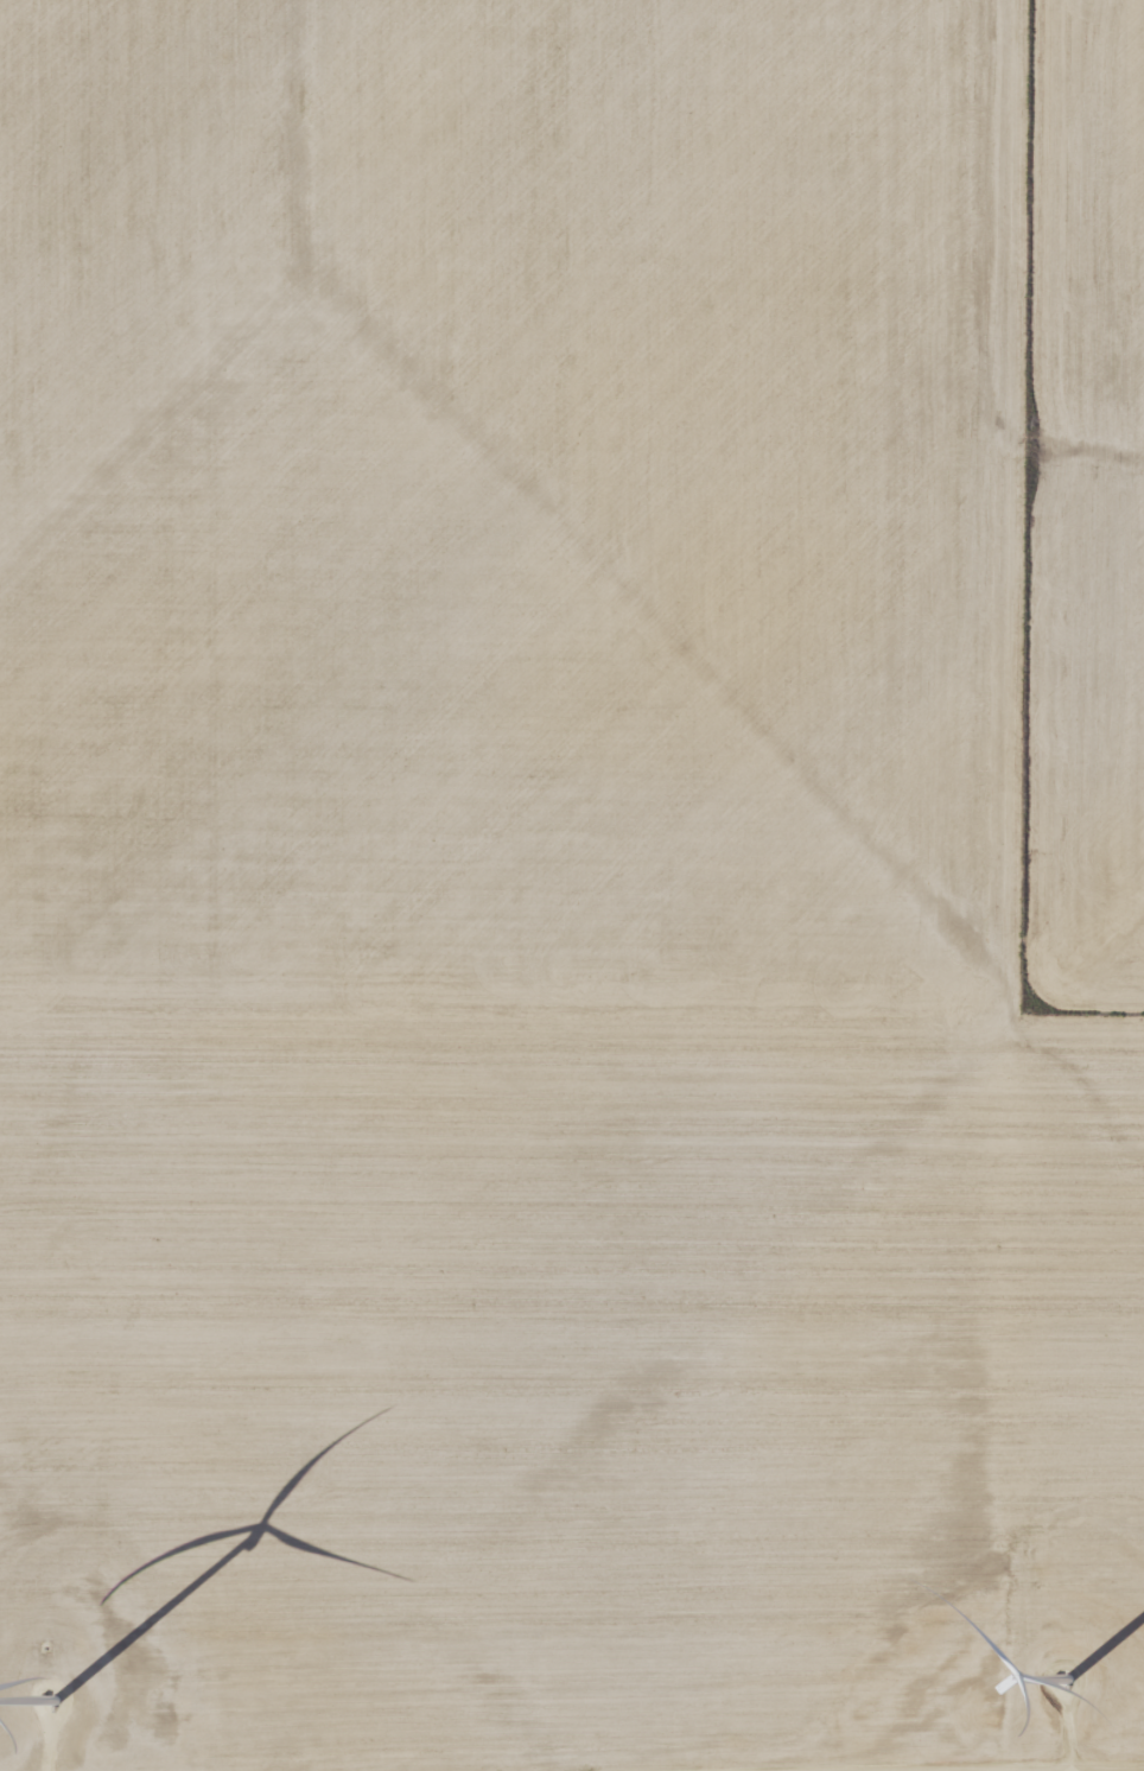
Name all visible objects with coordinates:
wind turbine: (1030, 1701)
wind turbine: (61, 1707)

